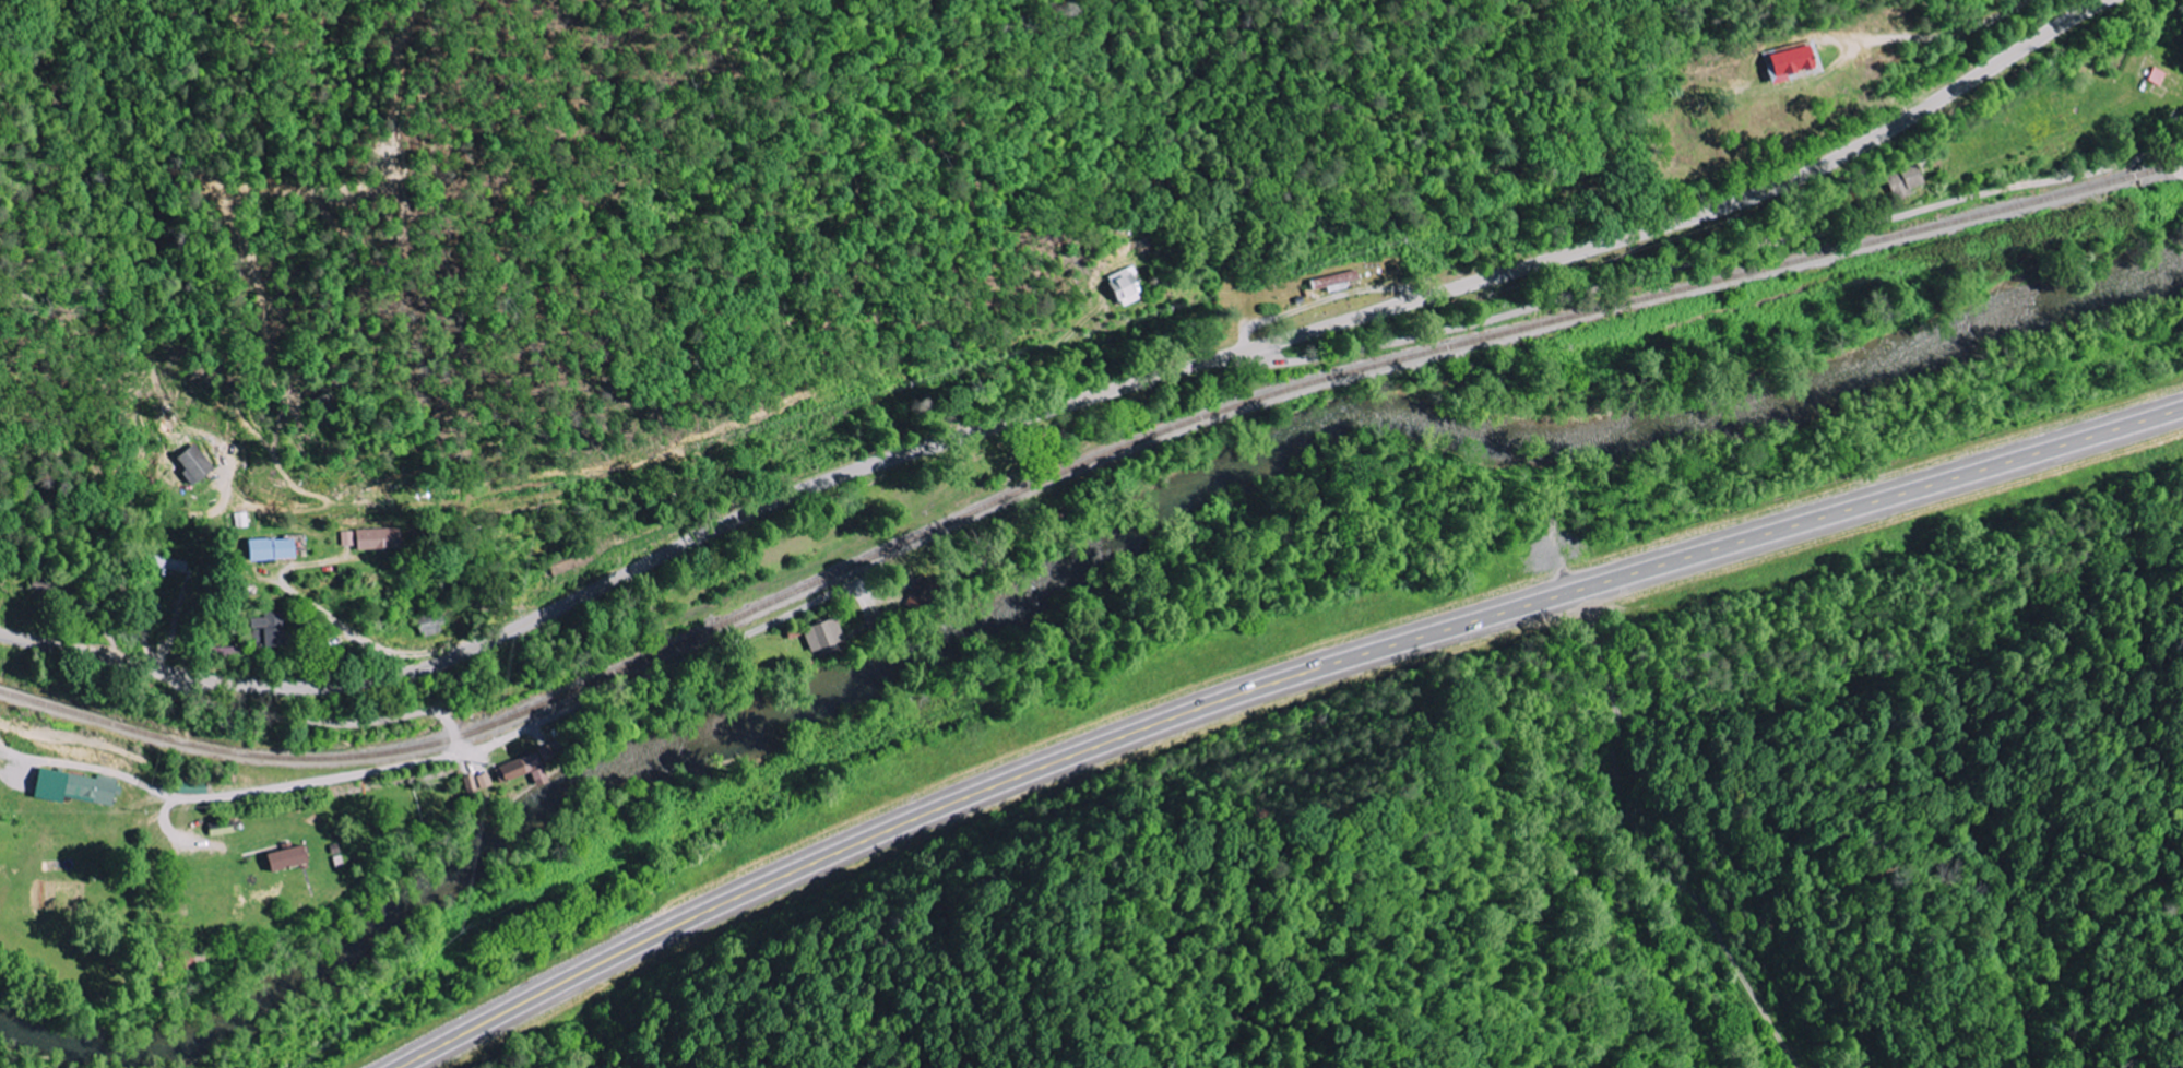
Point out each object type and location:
building: (1785, 61)
road: (2135, 121)
road: (2168, 159)
building: (1906, 180)
road: (1698, 259)
building: (1333, 281)
building: (1123, 286)
road: (1064, 405)
building: (191, 464)
railway: (1079, 464)
building: (370, 539)
building: (266, 549)
building: (164, 562)
river: (1066, 575)
building: (269, 630)
building: (822, 636)
road: (1272, 686)
road: (505, 738)
building: (521, 769)
building: (485, 781)
building: (471, 783)
building: (71, 786)
building: (221, 828)
building: (282, 858)
building: (188, 960)

